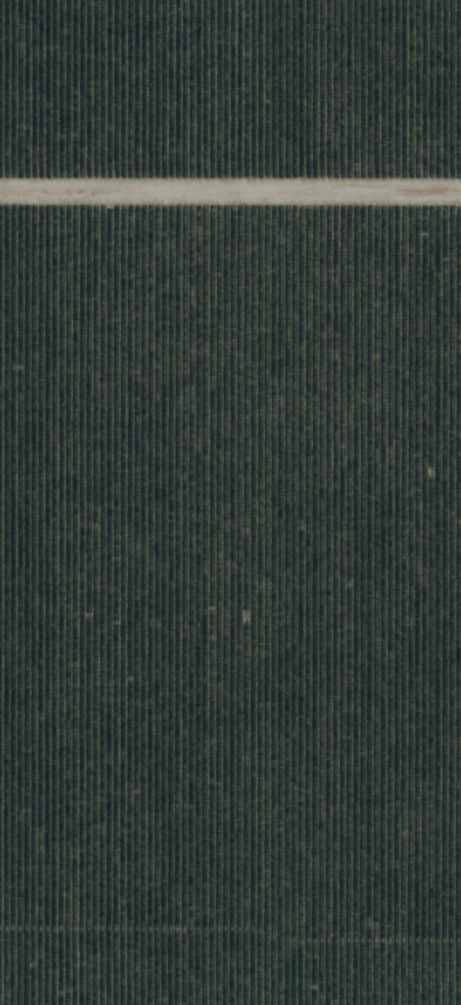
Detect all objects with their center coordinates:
road: (230, 207)
crop: (230, 502)

